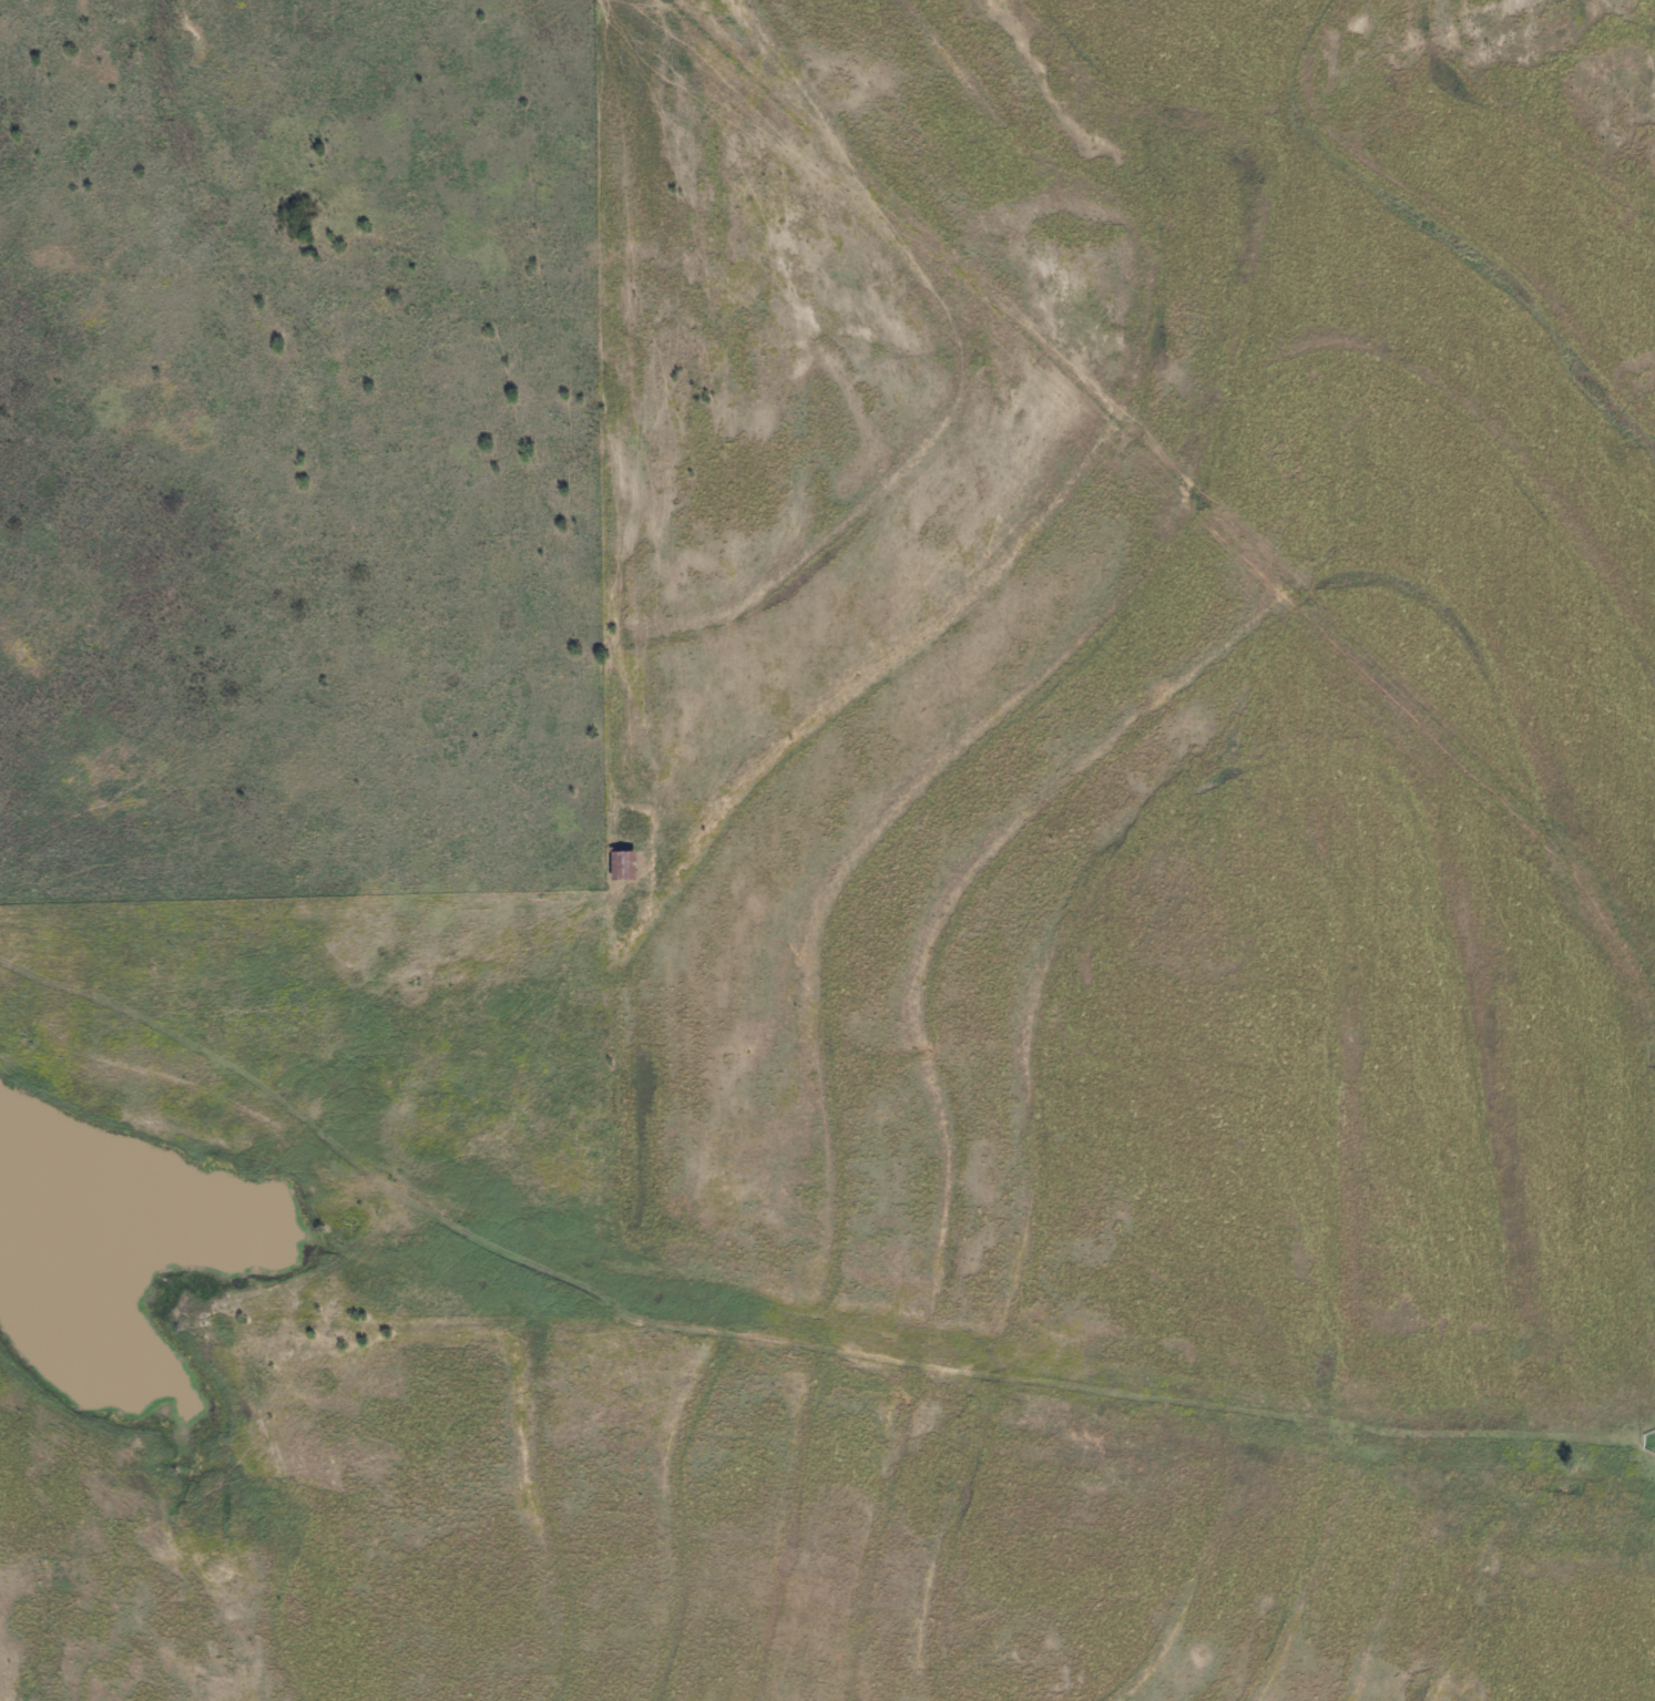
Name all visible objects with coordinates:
building: (627, 865)

